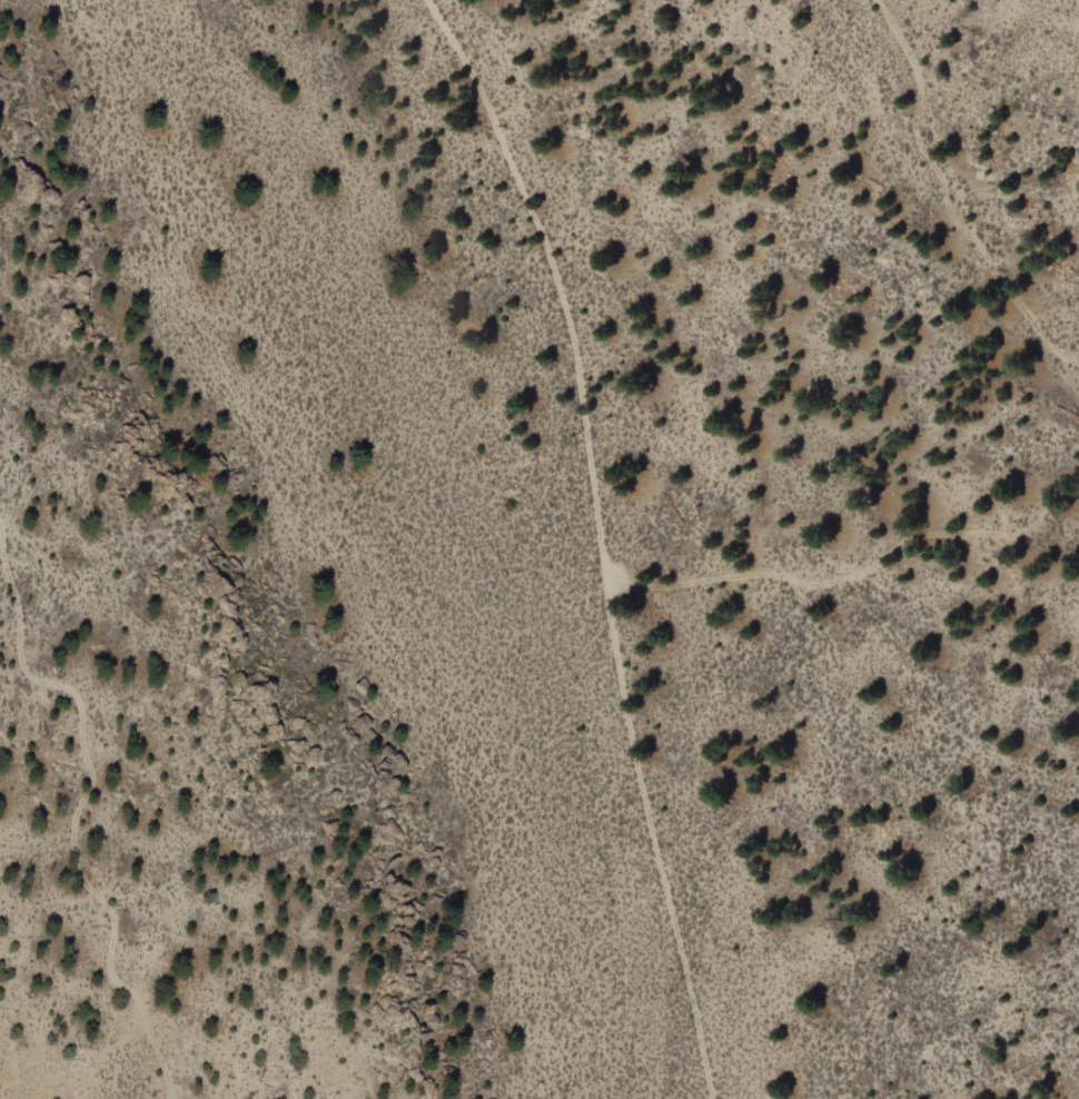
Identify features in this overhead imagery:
road: (948, 204)
road: (608, 538)

